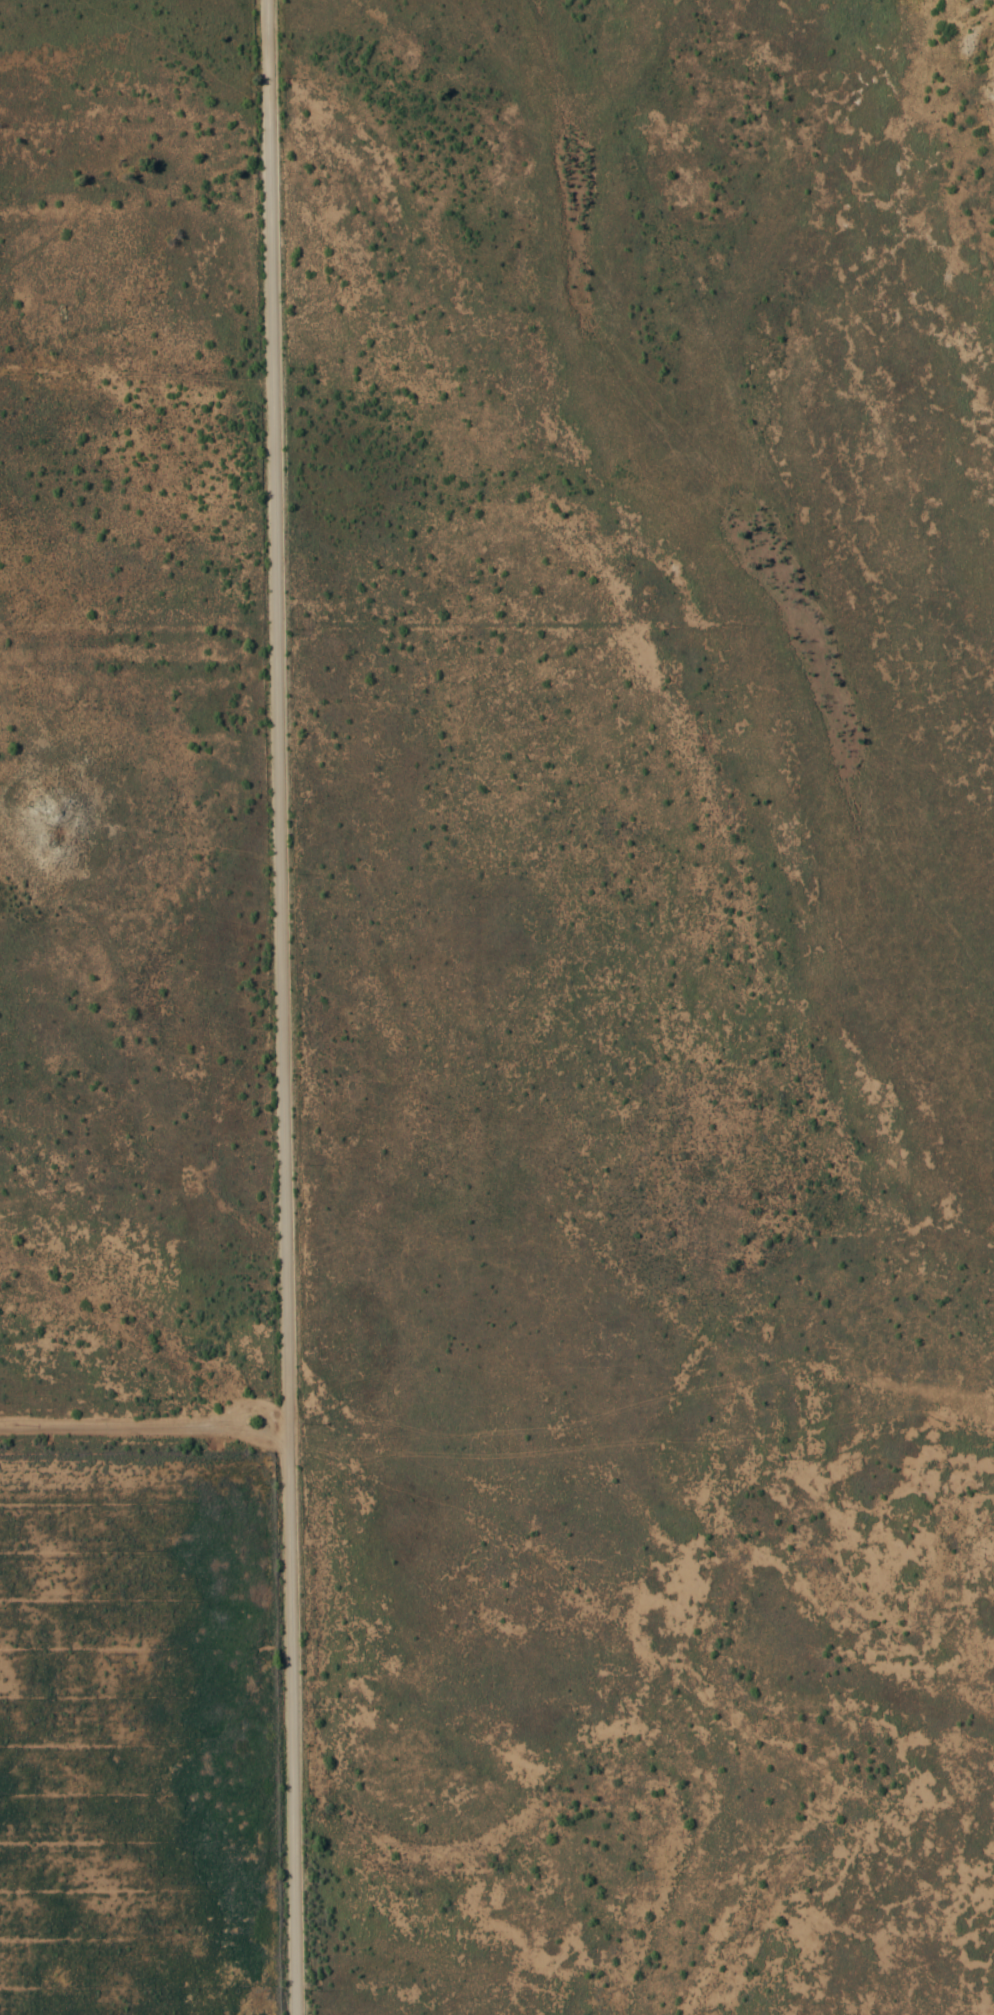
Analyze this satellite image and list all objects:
road: (138, 395)
road: (285, 1007)
road: (145, 1419)

